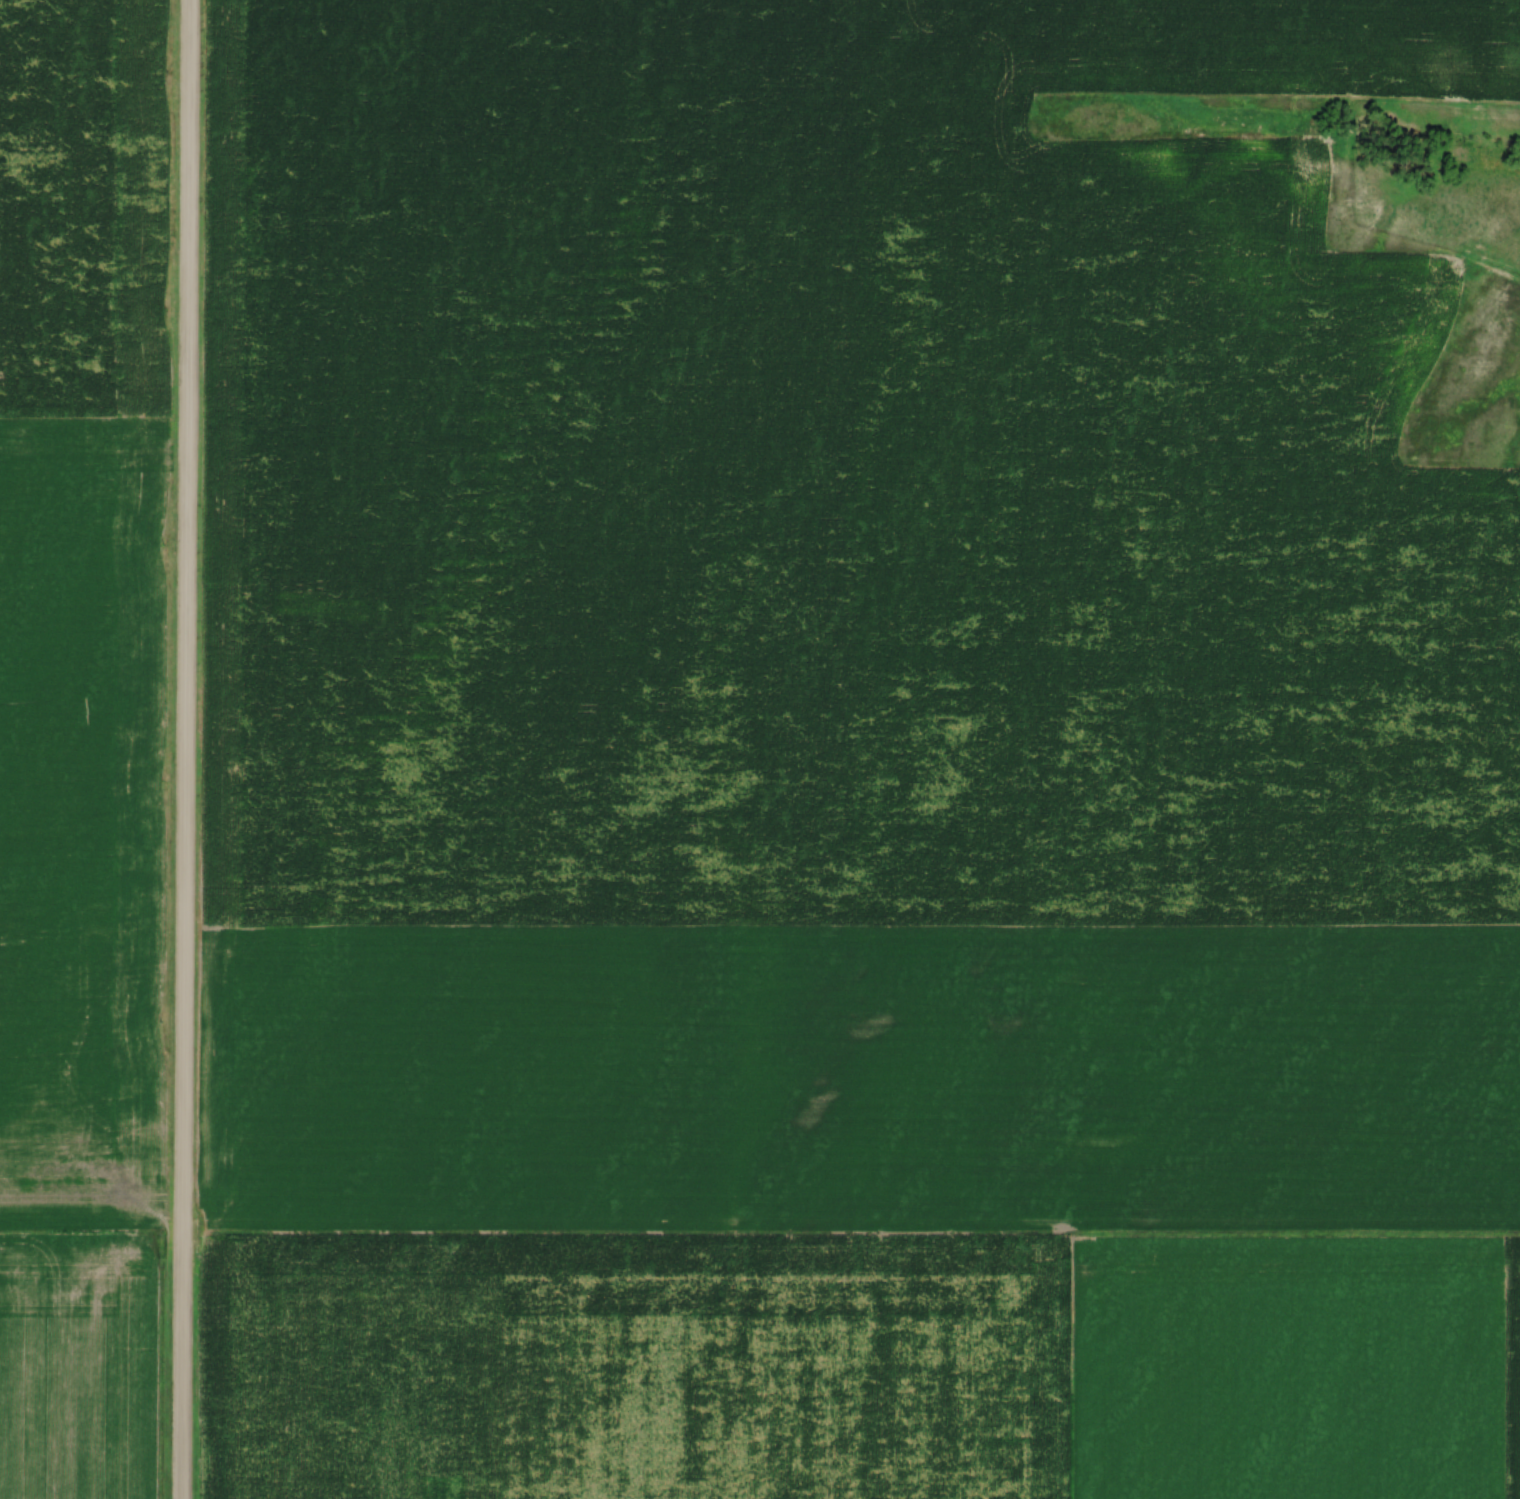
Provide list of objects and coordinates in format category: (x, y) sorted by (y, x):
road: (186, 749)

